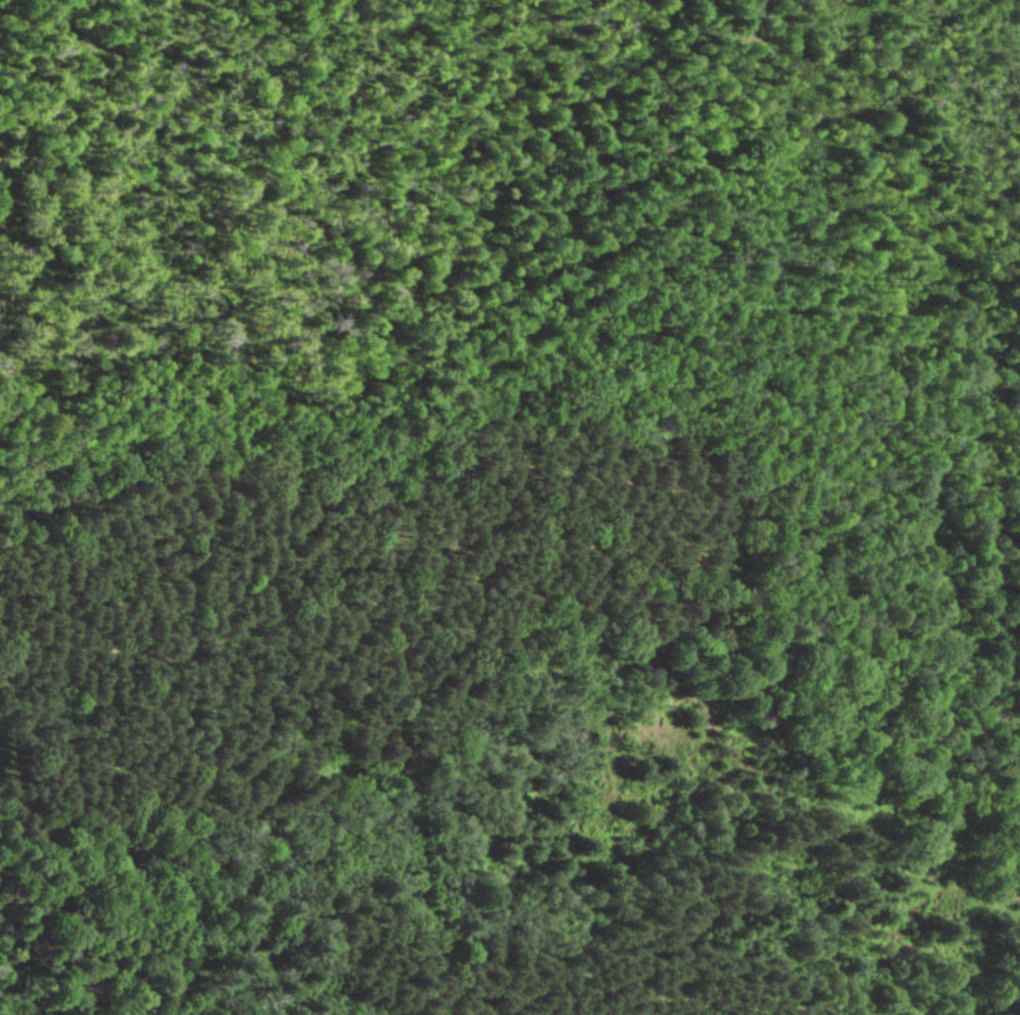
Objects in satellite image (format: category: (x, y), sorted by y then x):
road: (324, 719)

